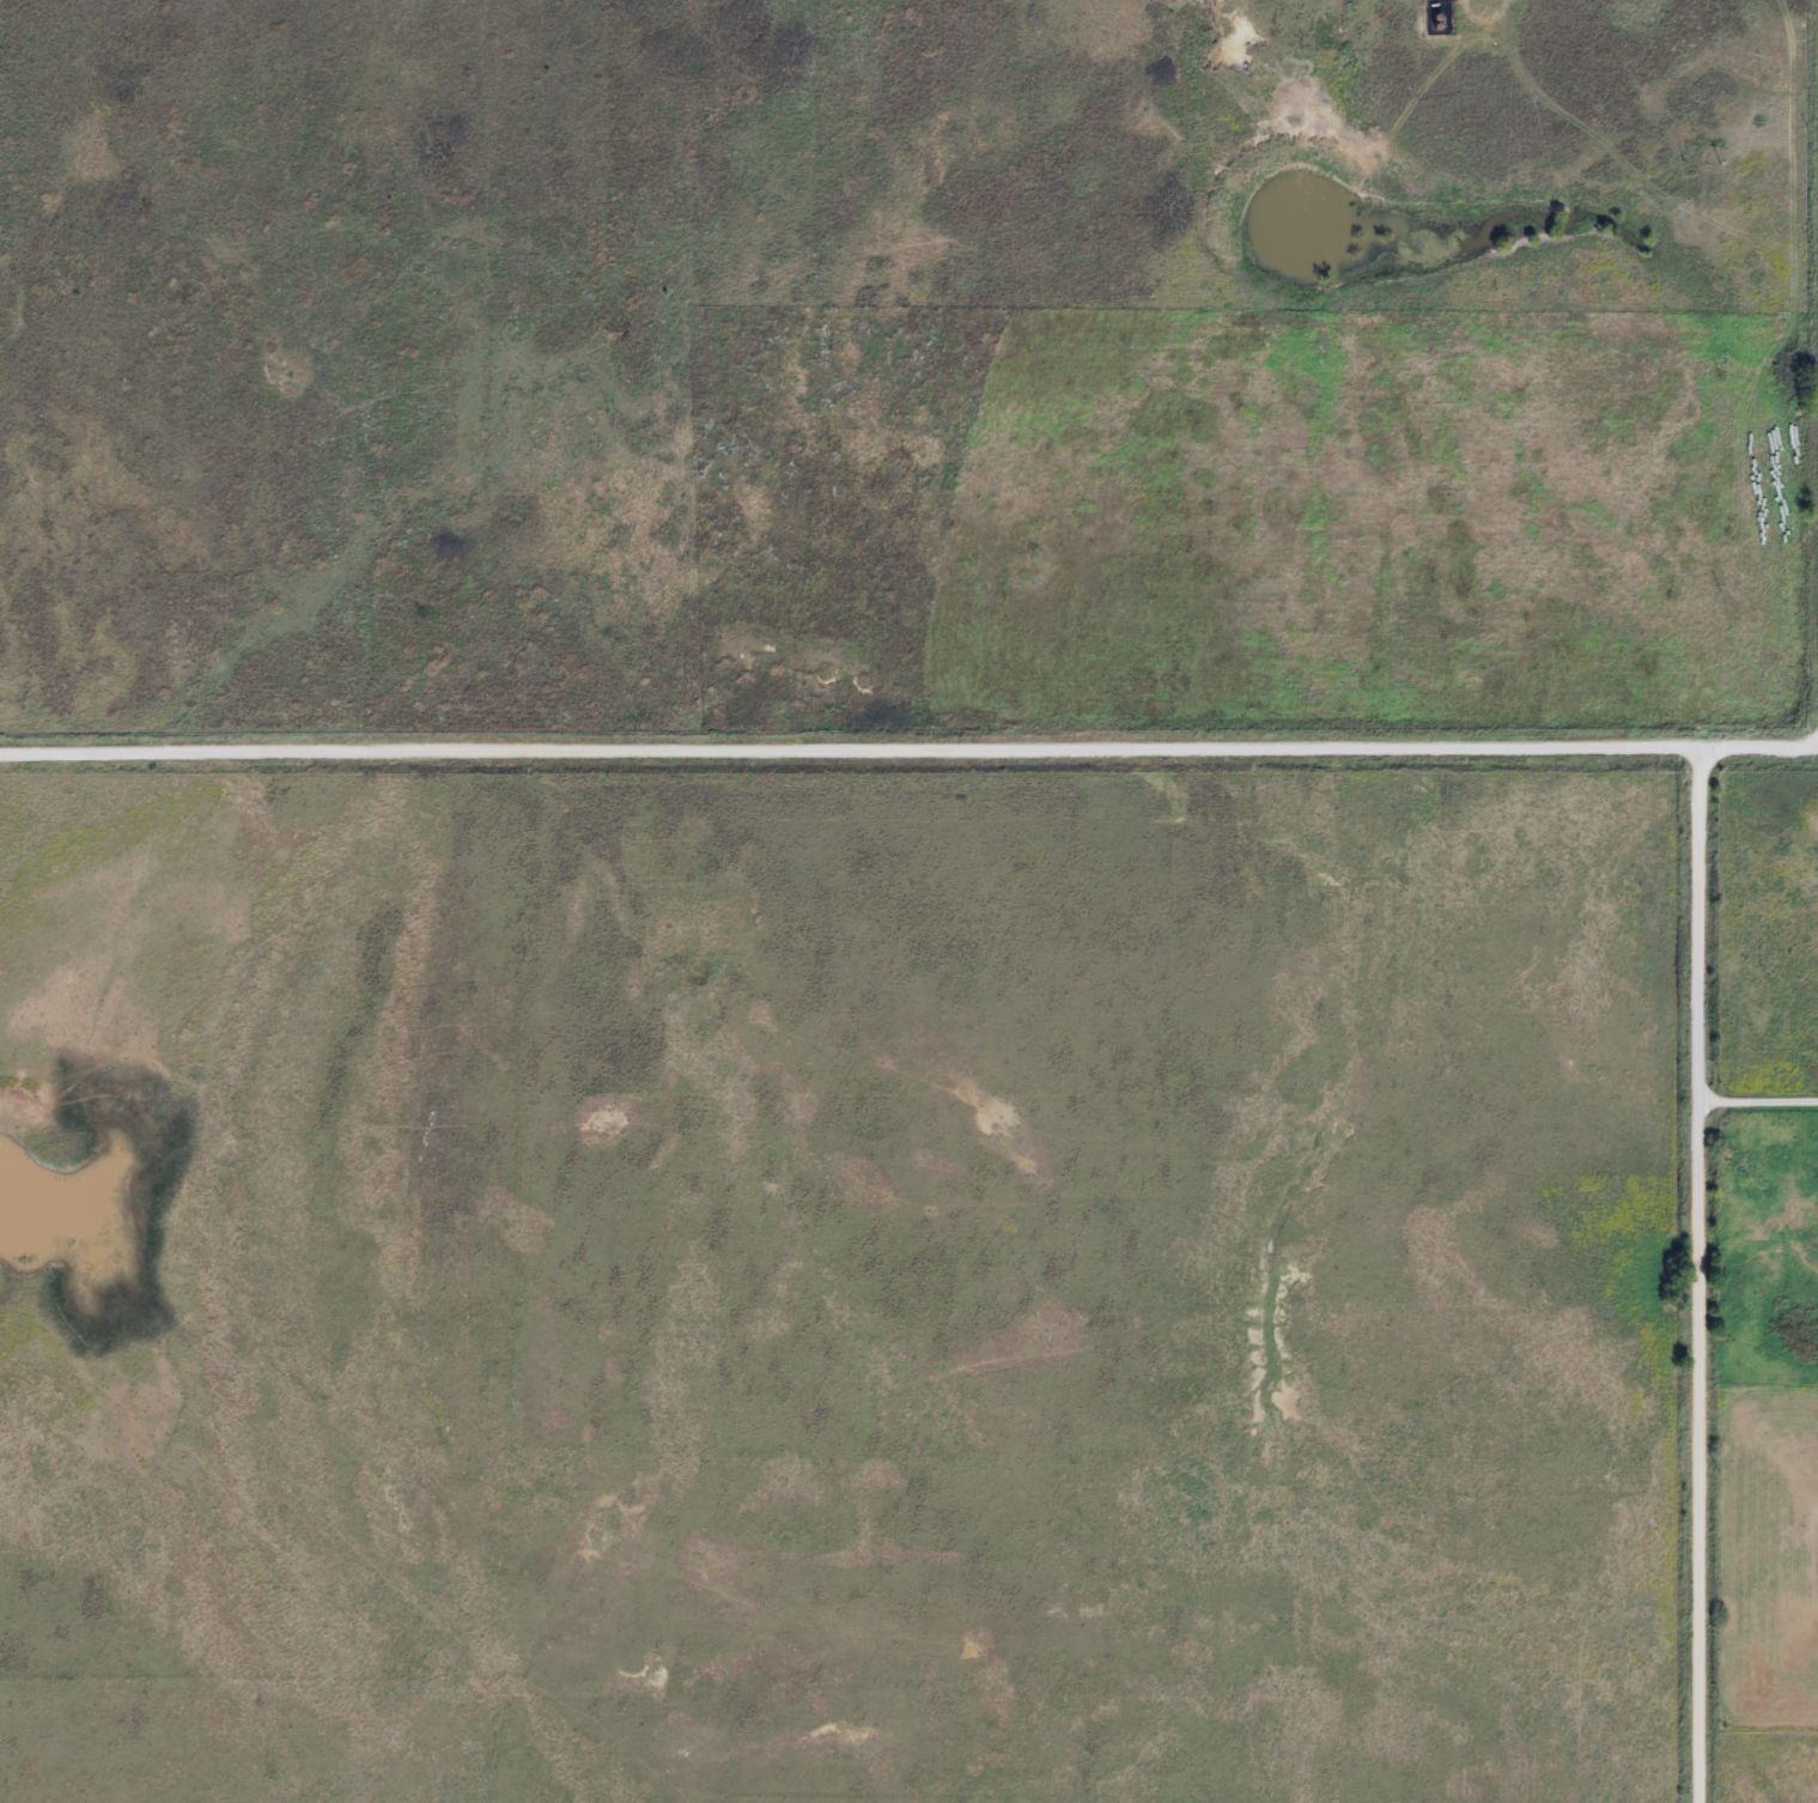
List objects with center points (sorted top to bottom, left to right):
road: (908, 746)
road: (1702, 1273)

